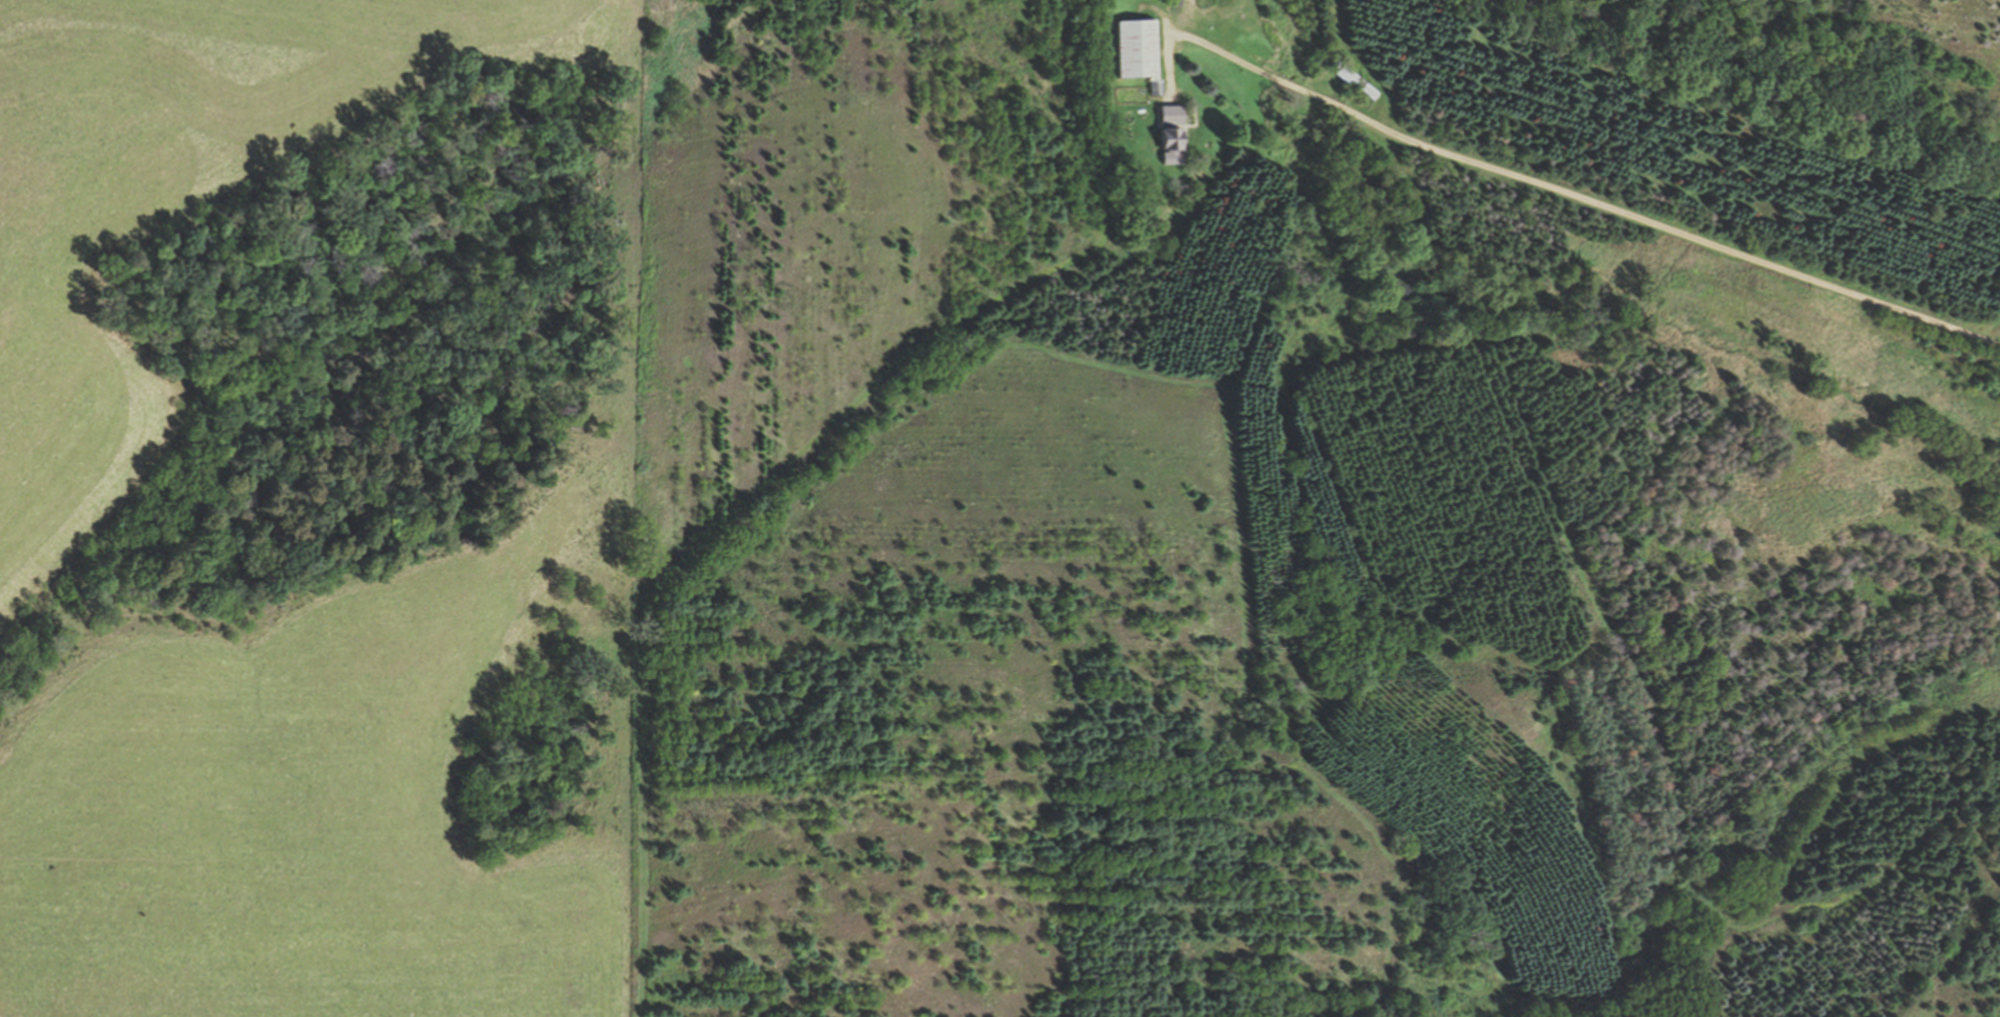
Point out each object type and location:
building: (1141, 48)
building: (1357, 82)
building: (1175, 133)
road: (1582, 199)

